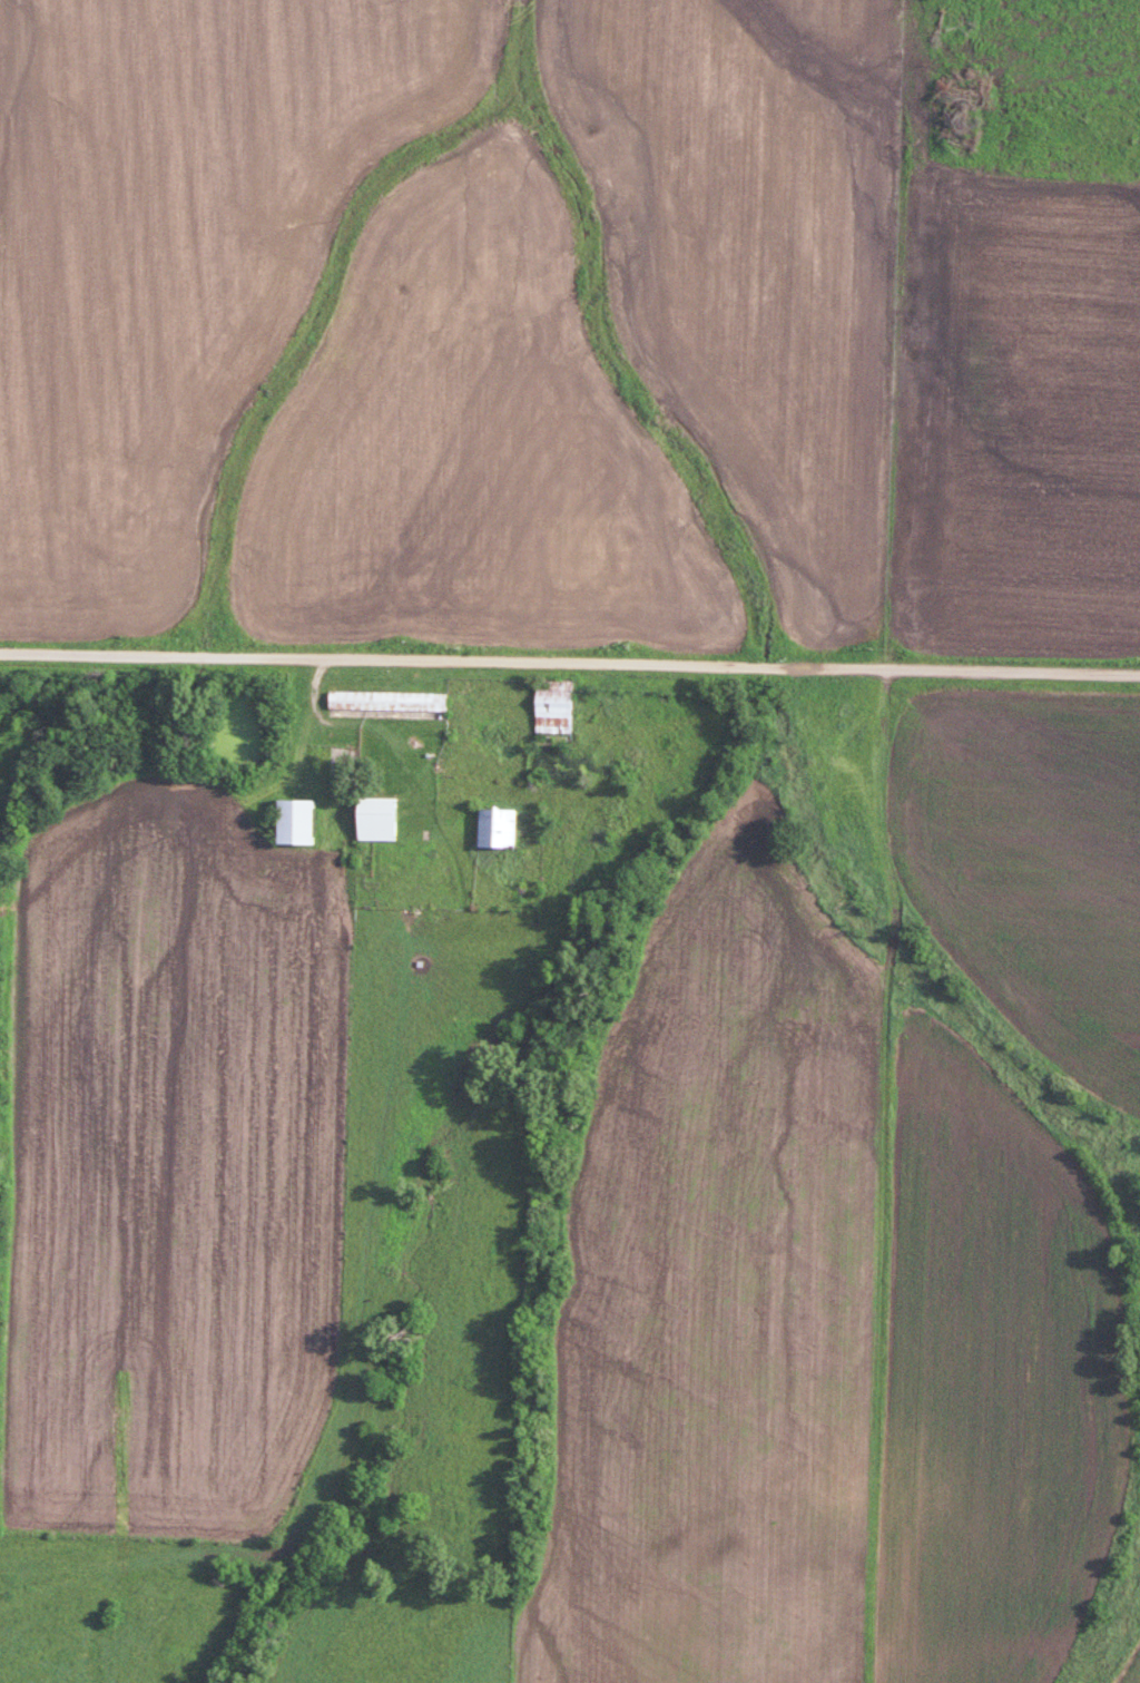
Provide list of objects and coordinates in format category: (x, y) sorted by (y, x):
road: (569, 663)
building: (385, 701)
building: (551, 705)
building: (374, 819)
building: (294, 821)
building: (494, 828)

